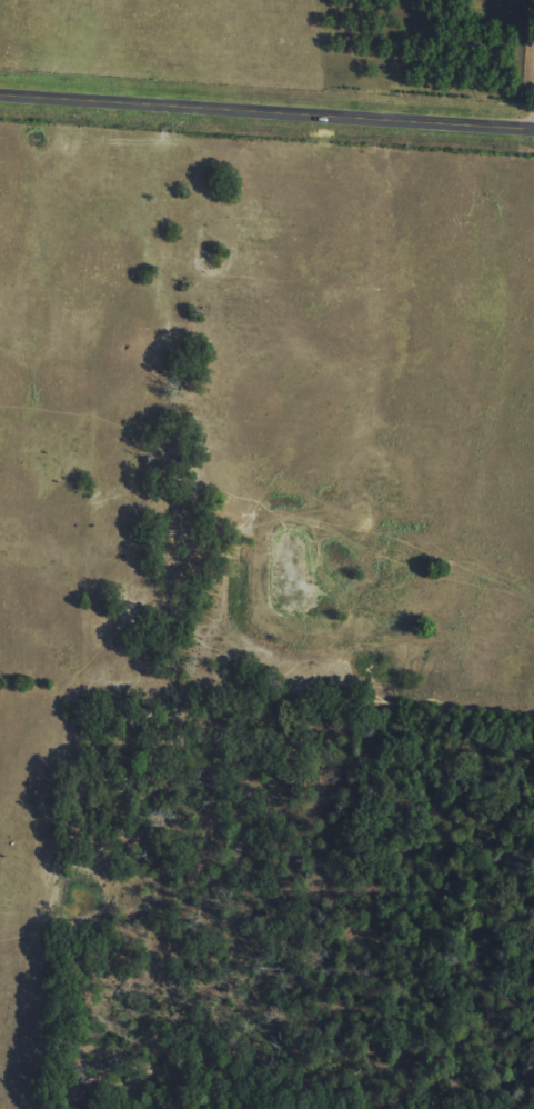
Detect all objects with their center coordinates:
road: (266, 110)

